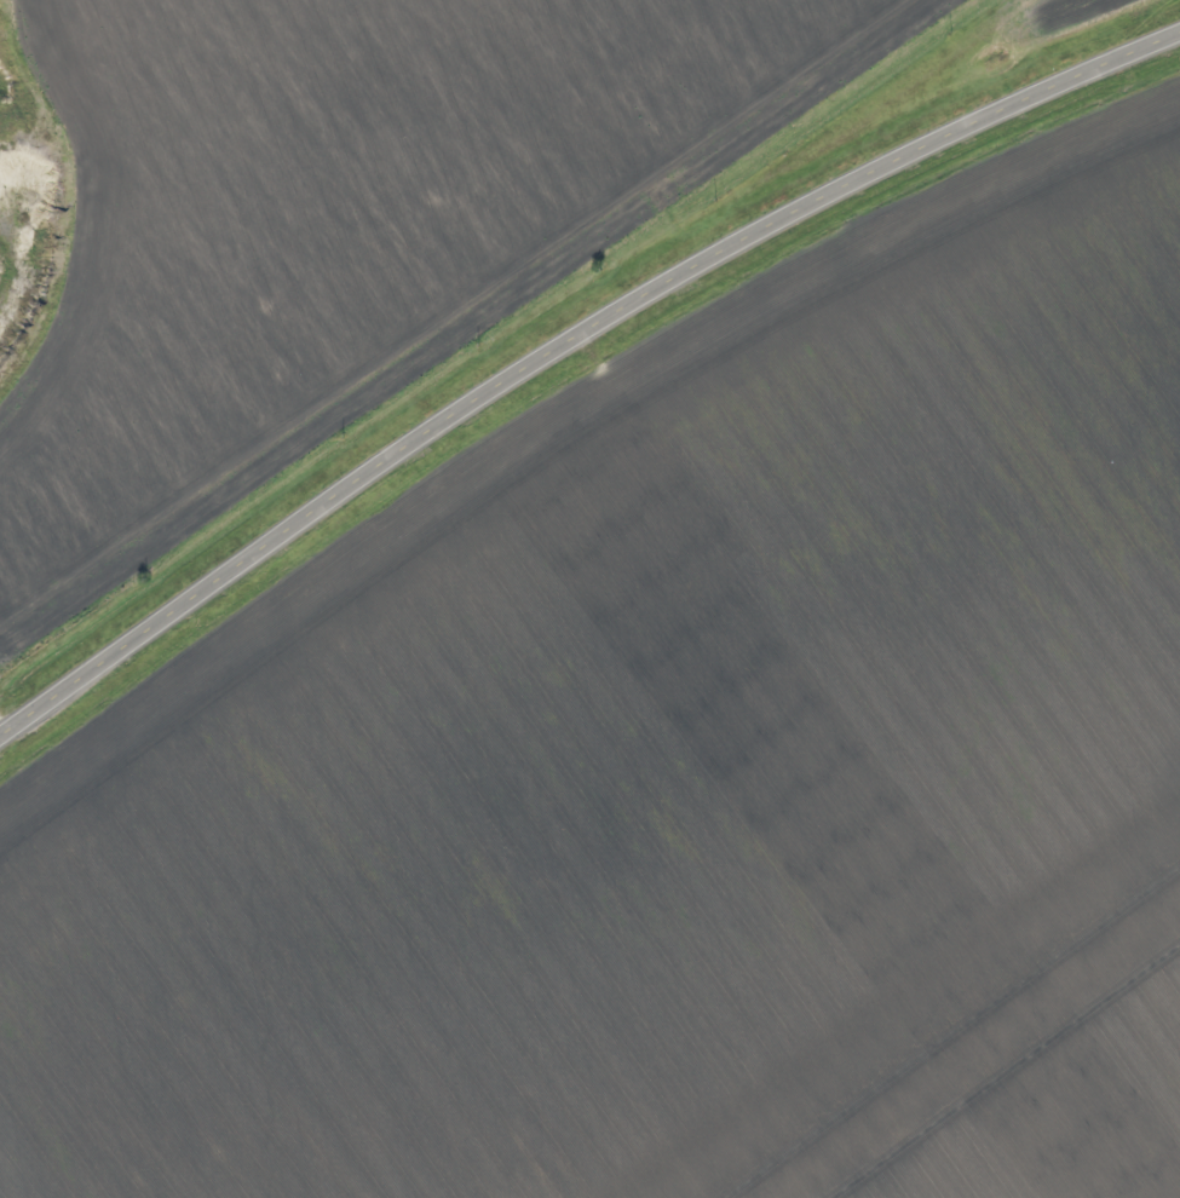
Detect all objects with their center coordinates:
road: (569, 351)

